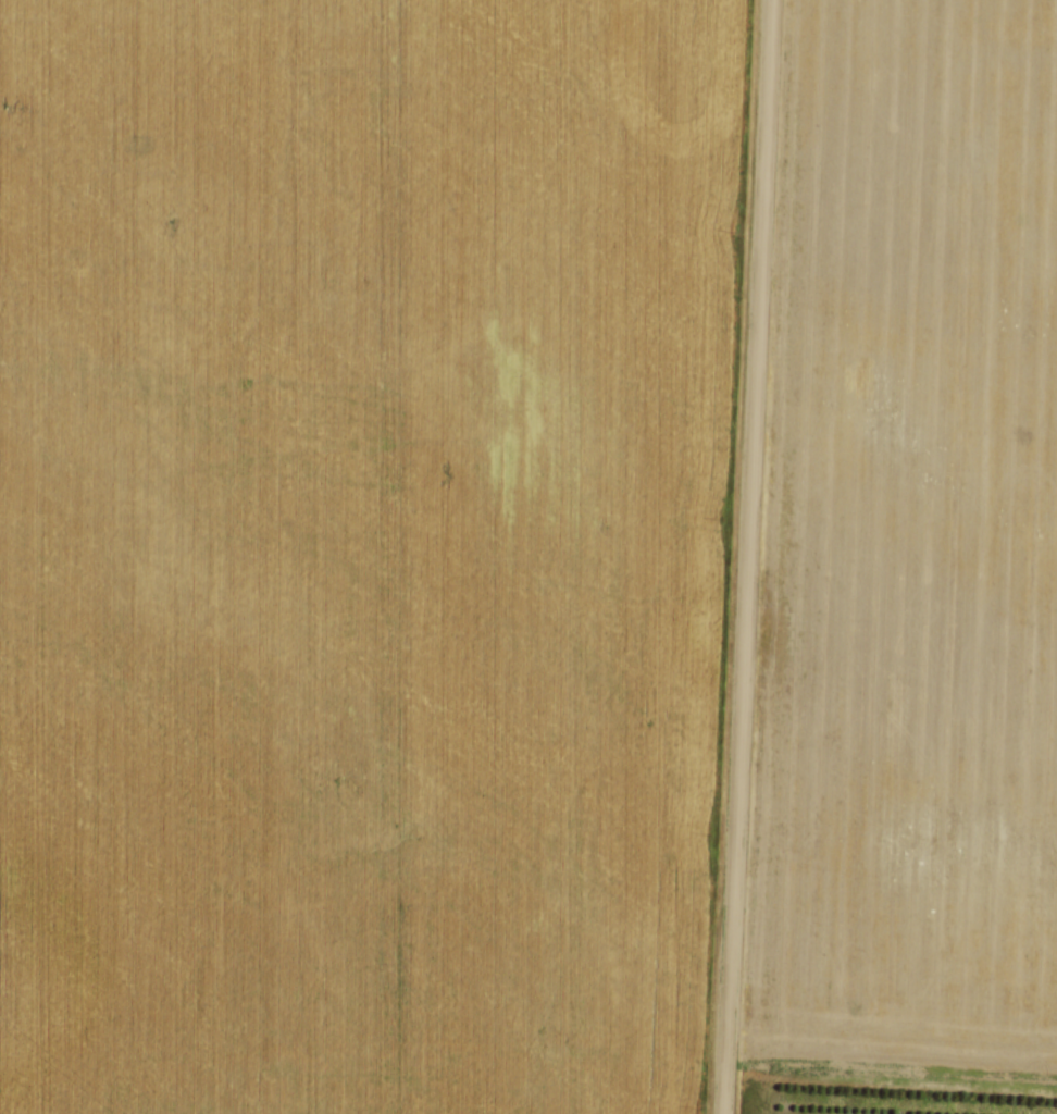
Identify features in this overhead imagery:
crop: (359, 550)
road: (742, 557)
crop: (909, 557)

